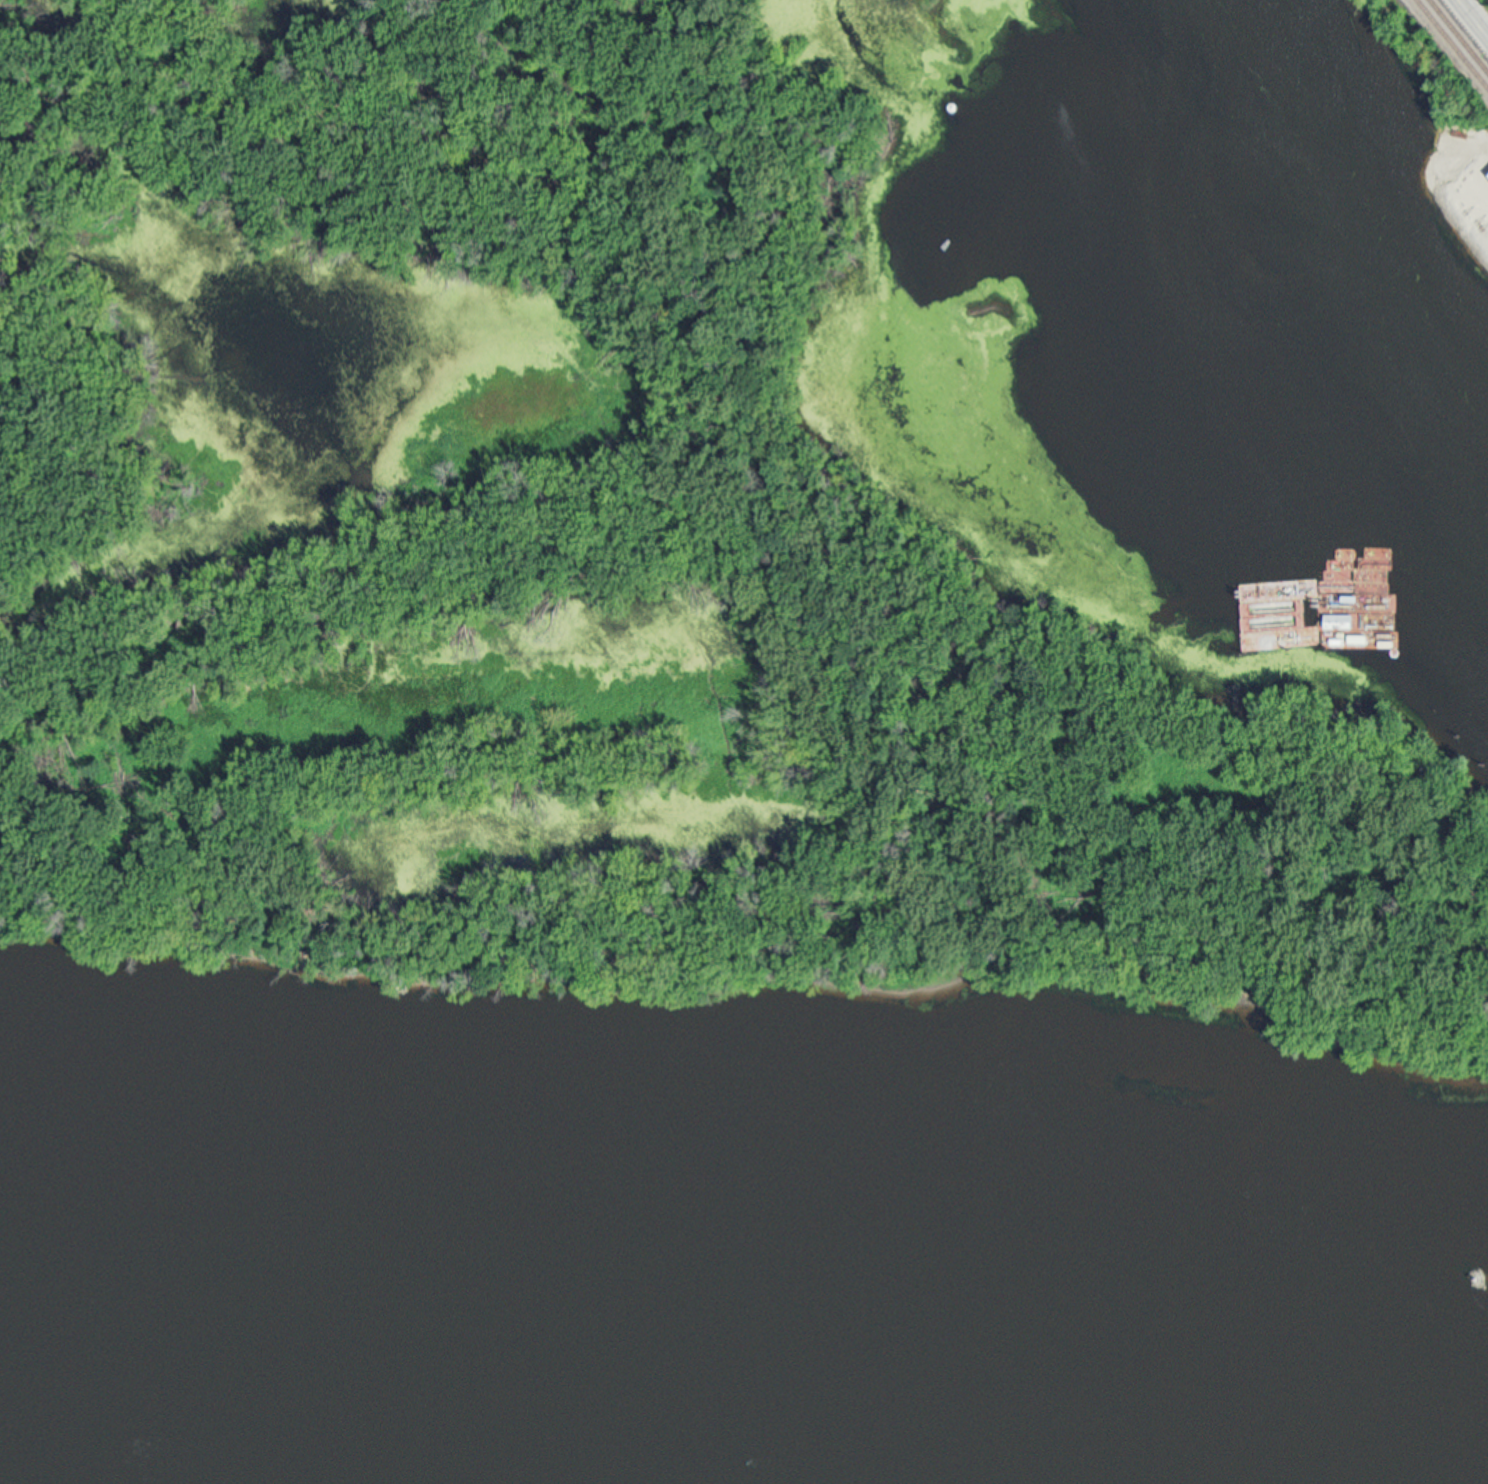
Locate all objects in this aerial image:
road: (1480, 9)
railway: (1459, 35)
railway: (1453, 42)
river: (257, 1432)
river: (703, 1458)

